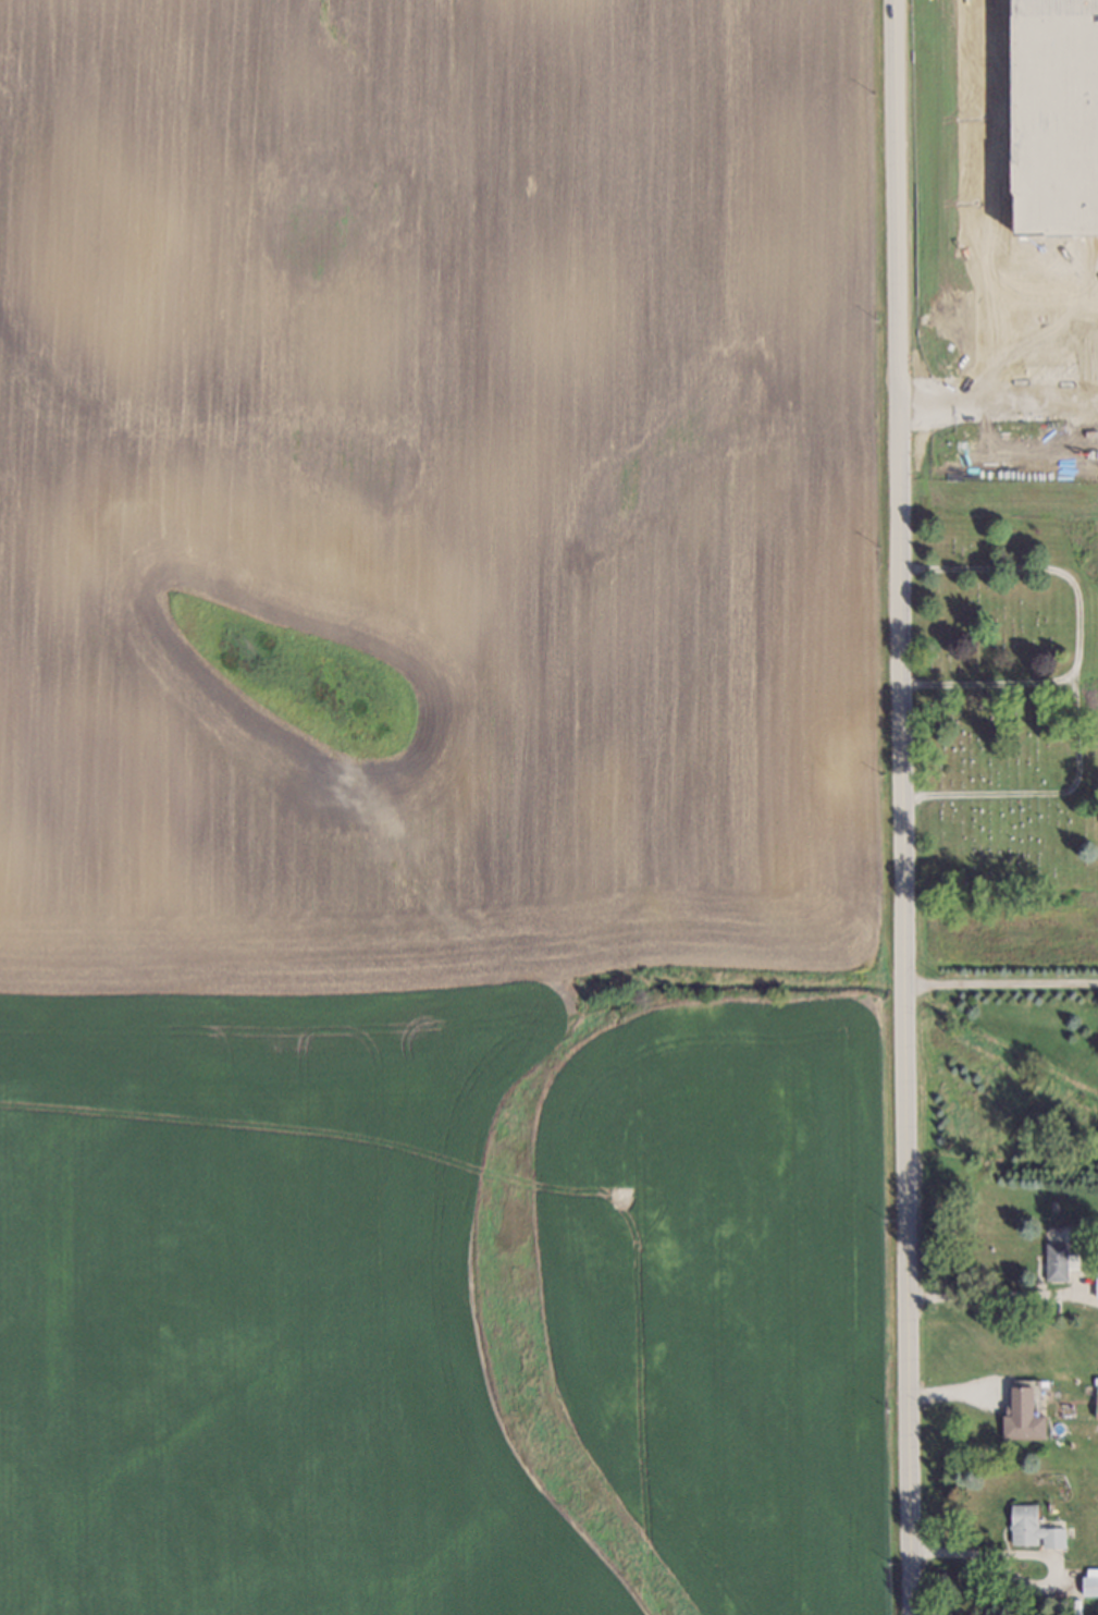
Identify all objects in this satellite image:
crop: (1002, 253)
road: (984, 682)
road: (1072, 682)
road: (898, 807)
crop: (1004, 932)
road: (998, 982)
building: (1052, 1260)
building: (1093, 1289)
road: (986, 1294)
building: (1093, 1407)
building: (1019, 1417)
building: (1021, 1522)
building: (1050, 1537)
road: (977, 1553)
building: (1087, 1576)
building: (1059, 1607)

